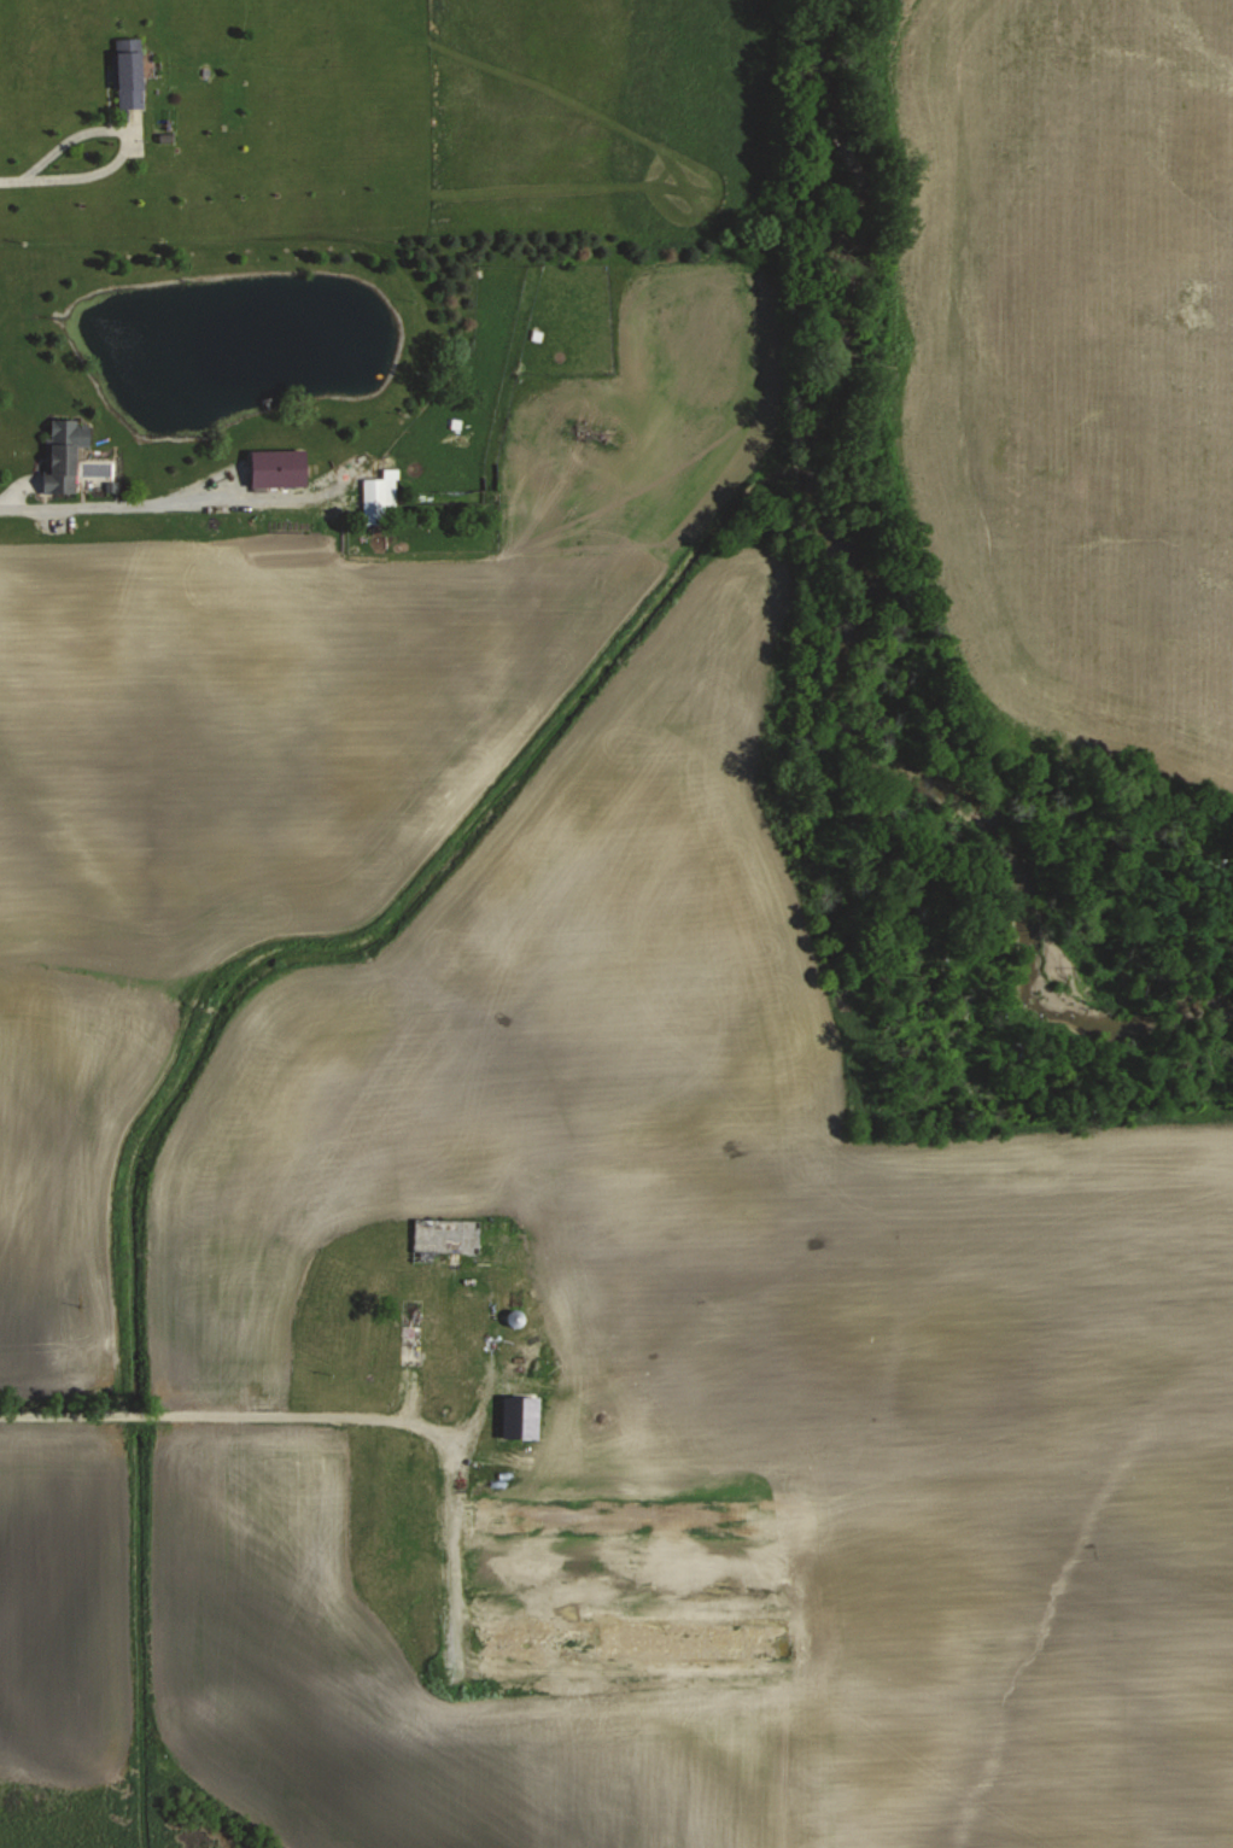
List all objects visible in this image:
building: (132, 72)
road: (132, 129)
road: (14, 174)
building: (280, 464)
building: (62, 466)
building: (380, 495)
road: (142, 497)
building: (464, 1240)
building: (516, 1317)
road: (315, 1414)
building: (636, 1516)
building: (635, 1638)

